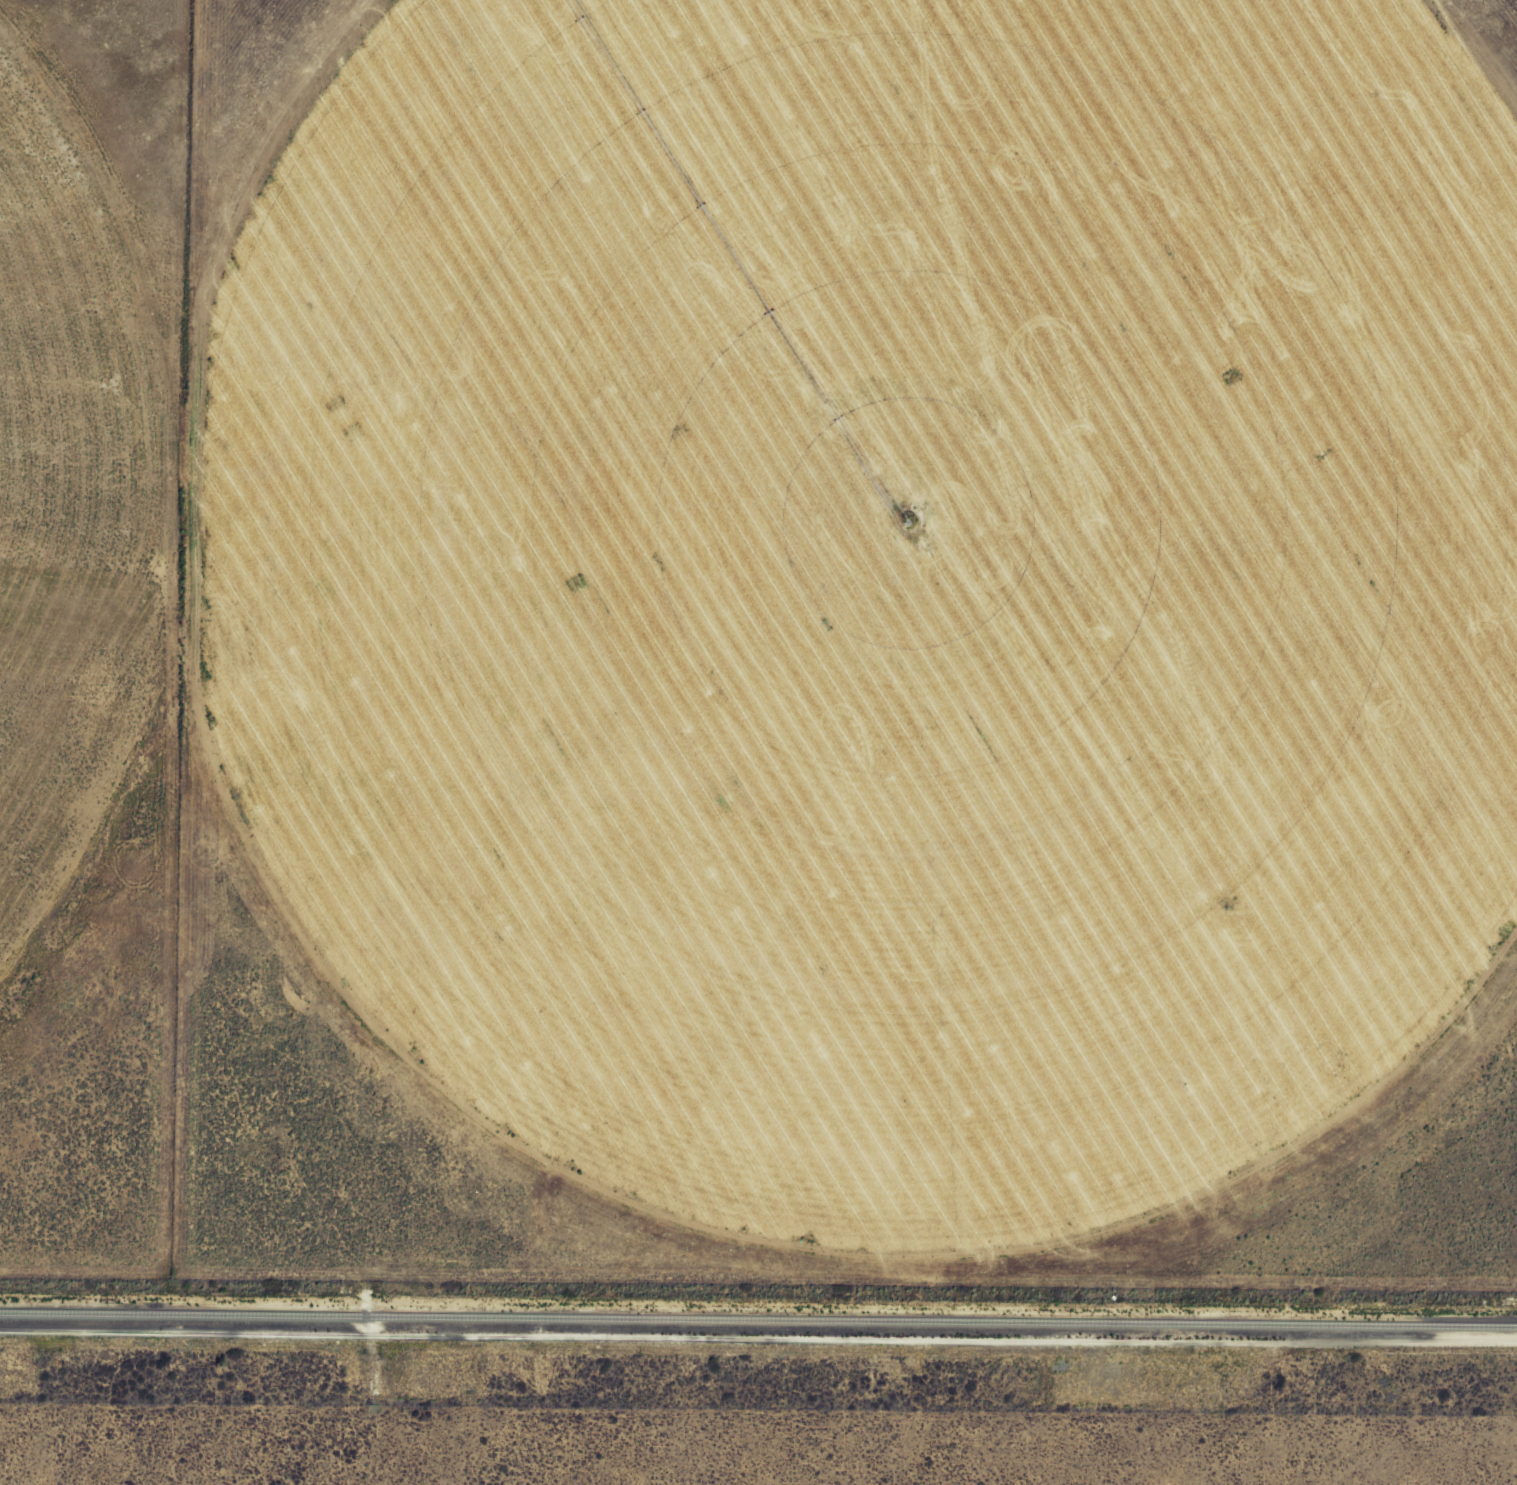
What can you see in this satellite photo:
railway: (758, 1320)

